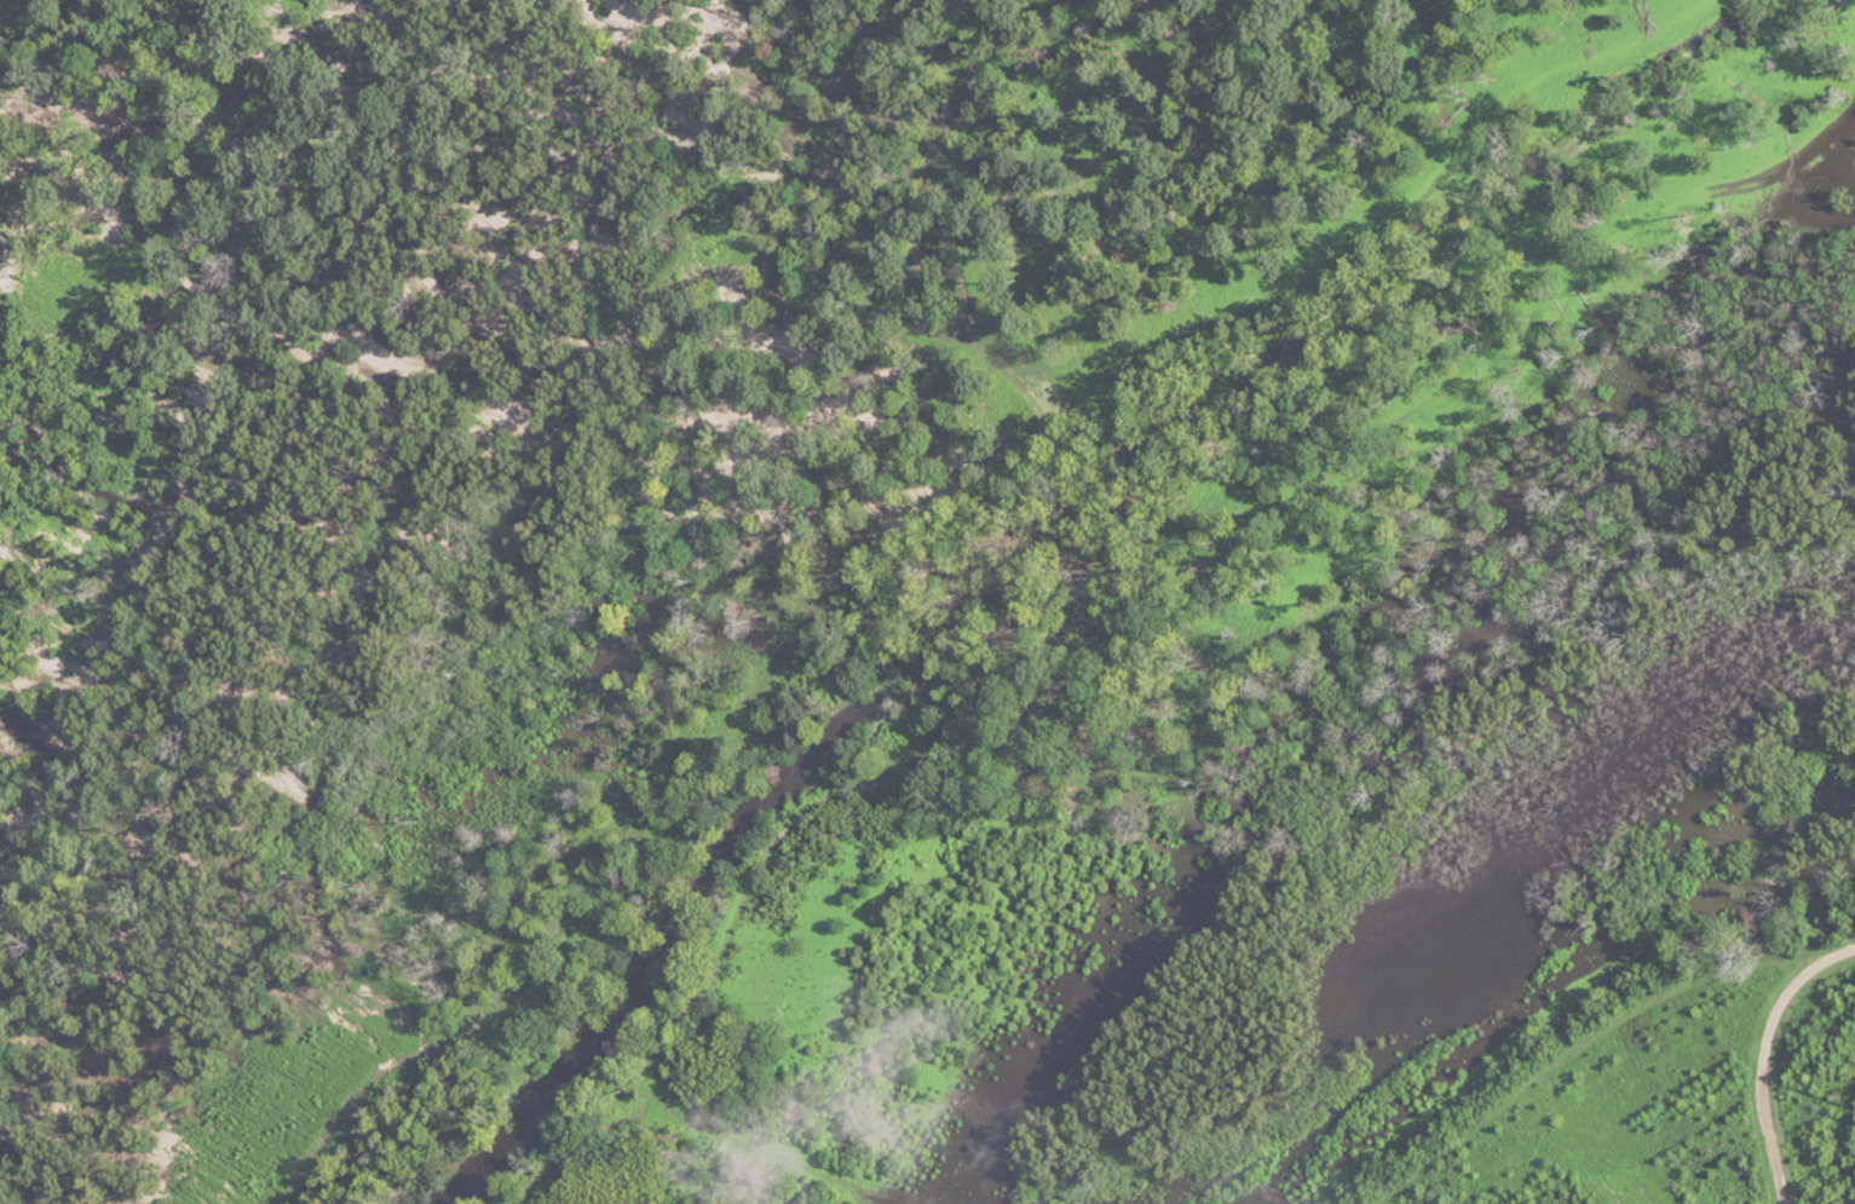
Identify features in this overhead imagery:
road: (1763, 1054)

